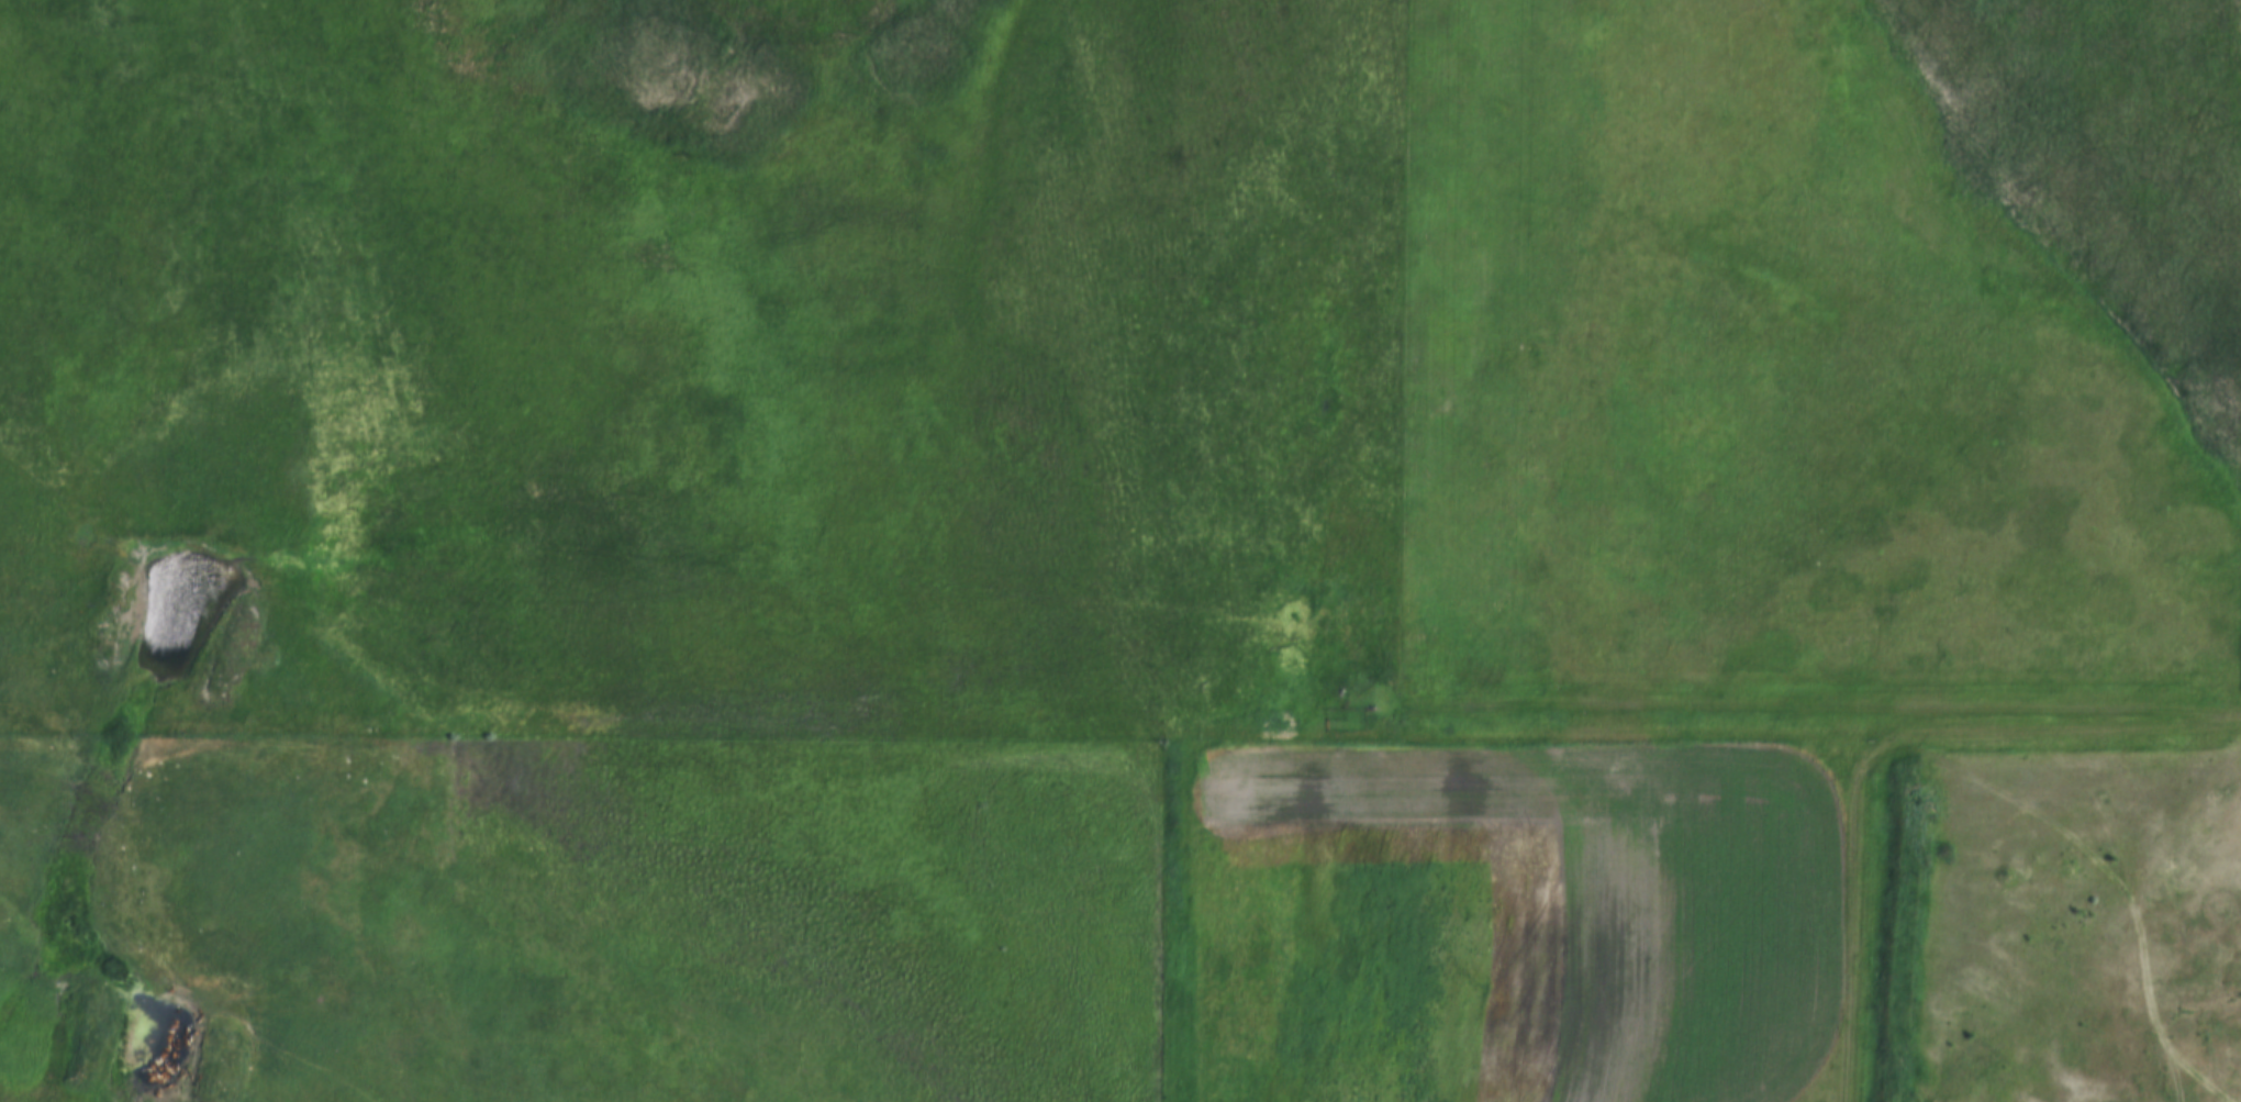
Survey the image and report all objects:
road: (1882, 747)
quarry: (2077, 954)

